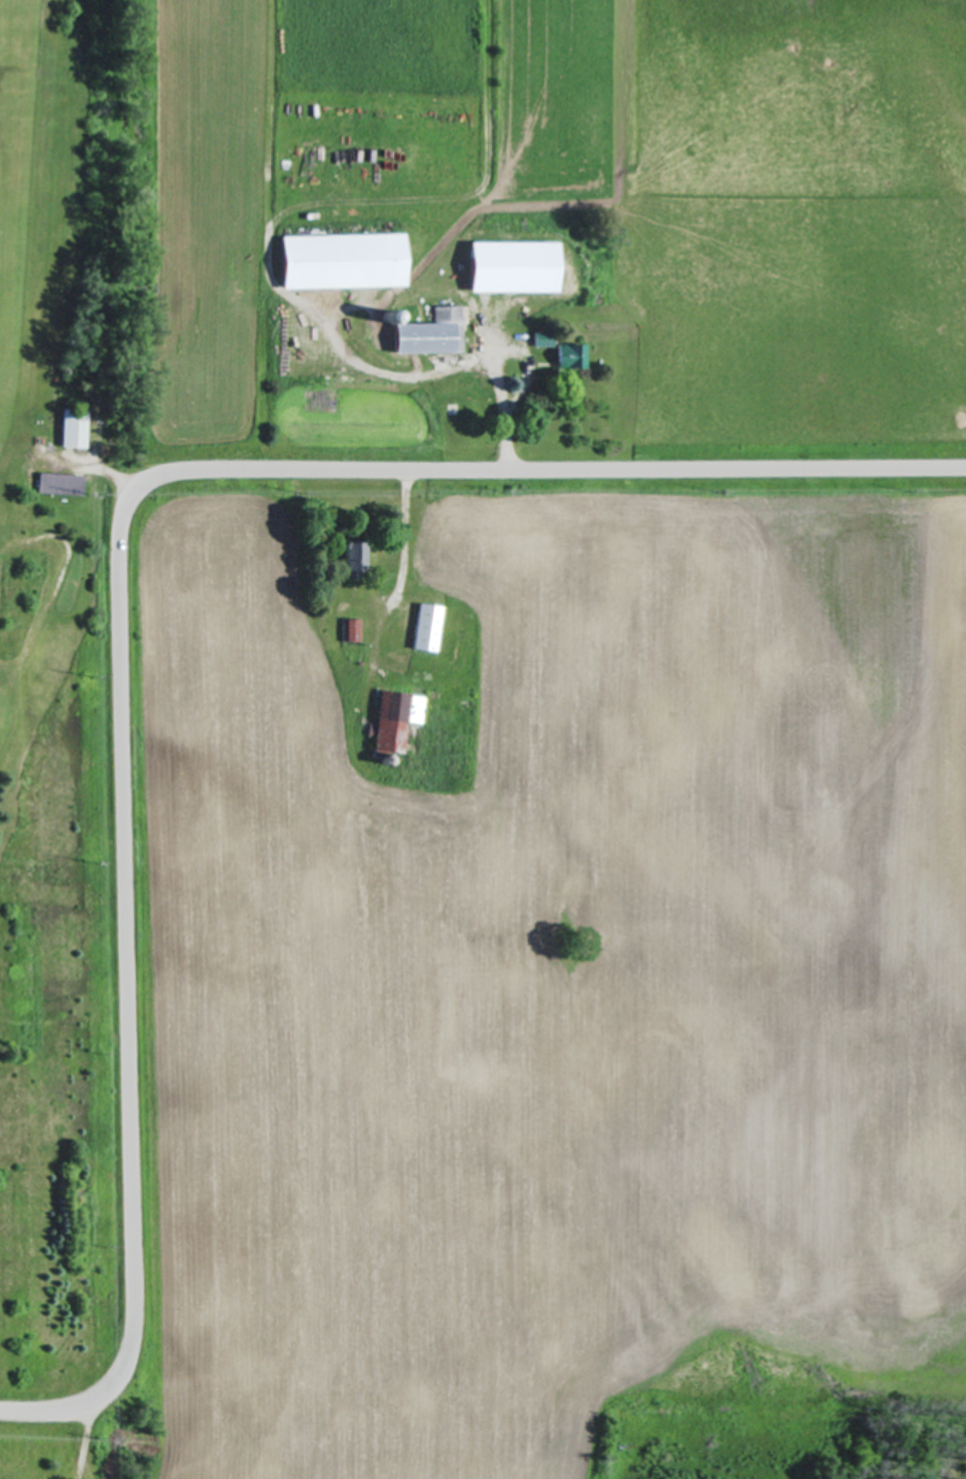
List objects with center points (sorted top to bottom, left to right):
building: (336, 261)
building: (508, 267)
building: (379, 317)
building: (428, 333)
building: (577, 356)
road: (495, 361)
building: (73, 427)
building: (59, 481)
building: (350, 555)
road: (122, 583)
building: (425, 627)
building: (350, 629)
building: (392, 719)
park: (74, 749)

